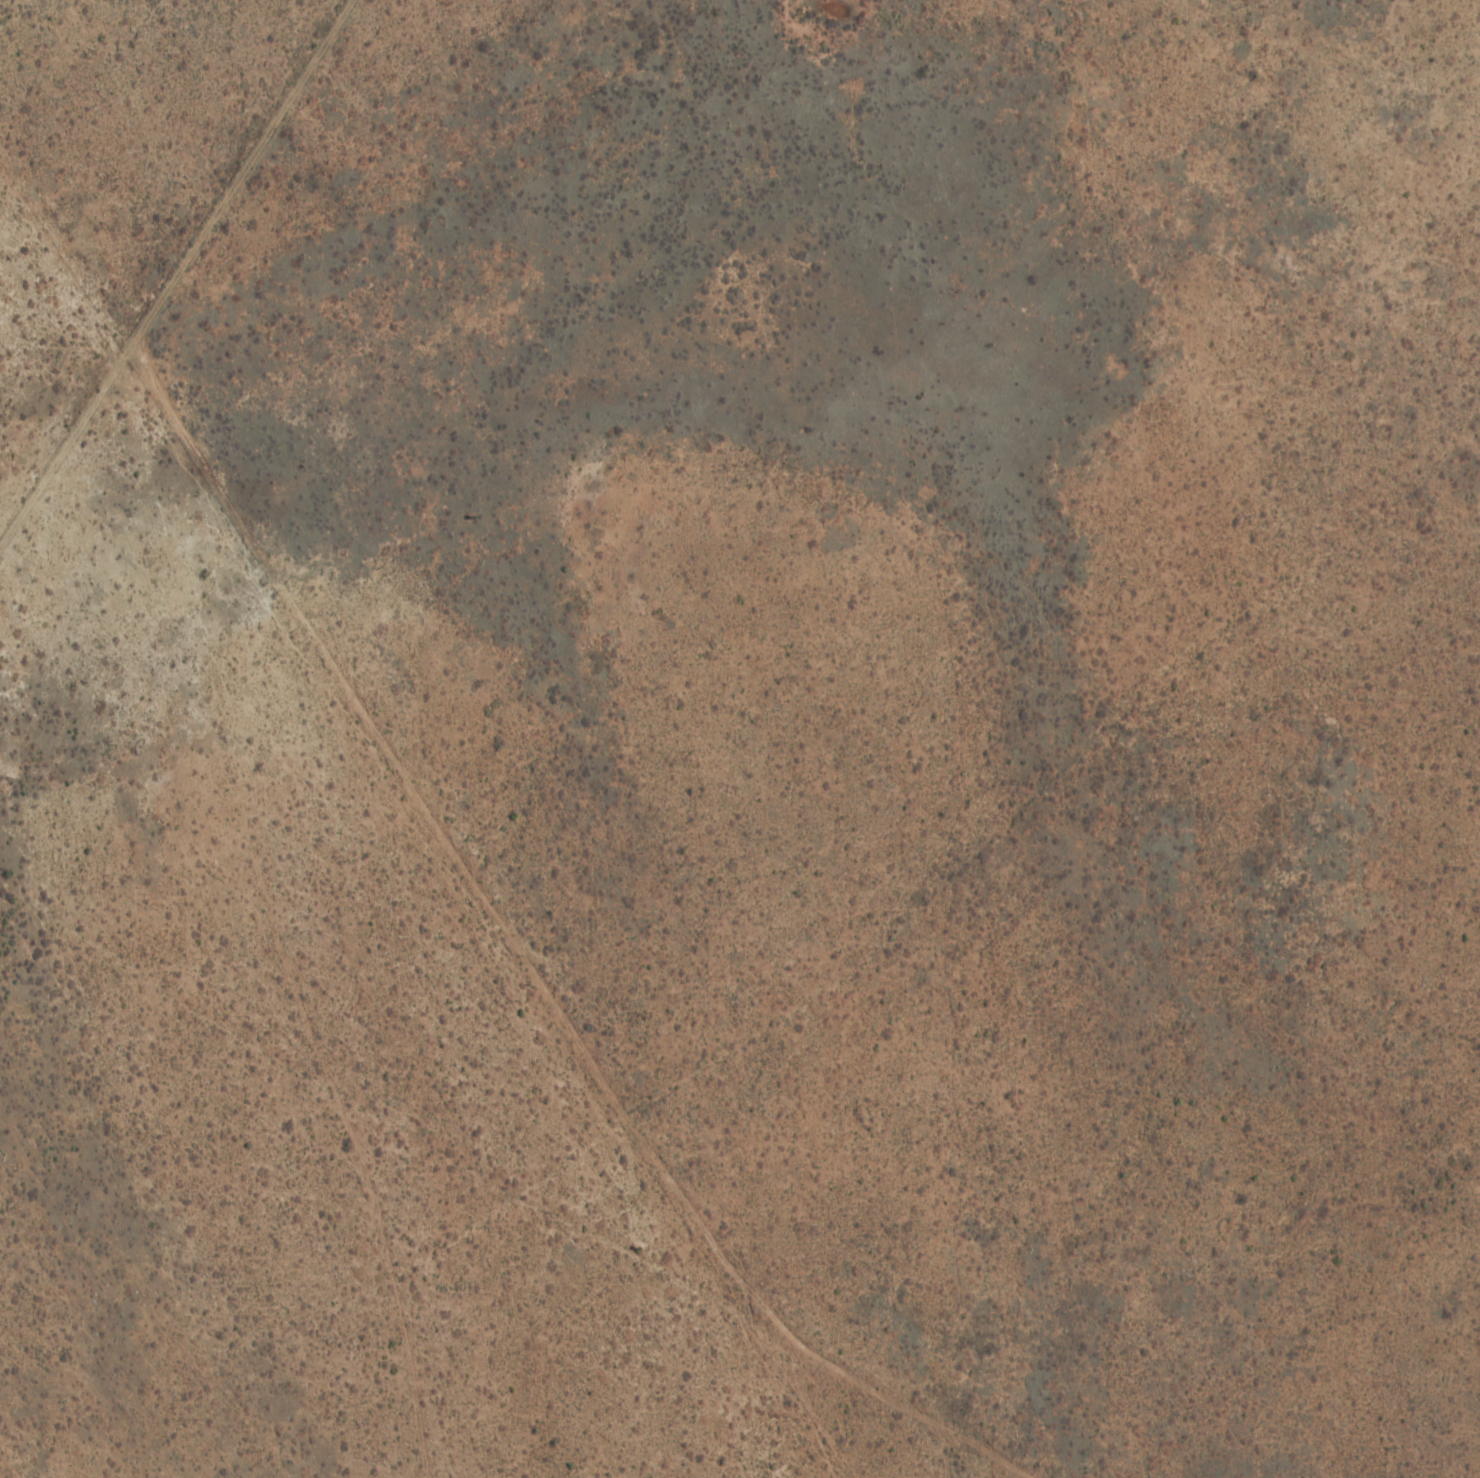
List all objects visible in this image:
road: (184, 283)

